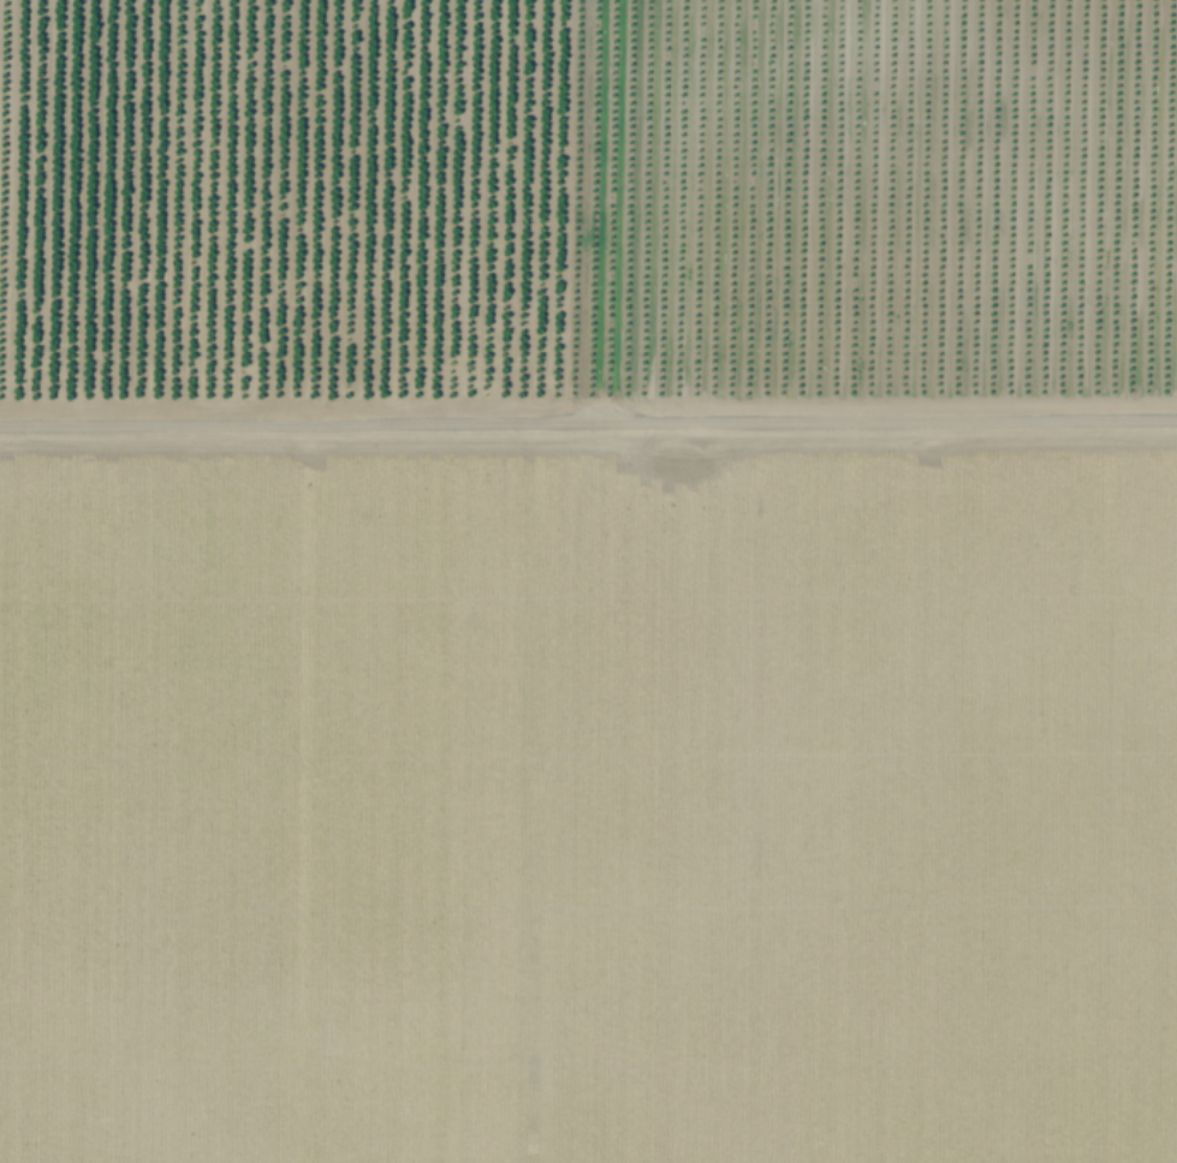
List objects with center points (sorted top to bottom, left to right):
crop: (588, 581)

